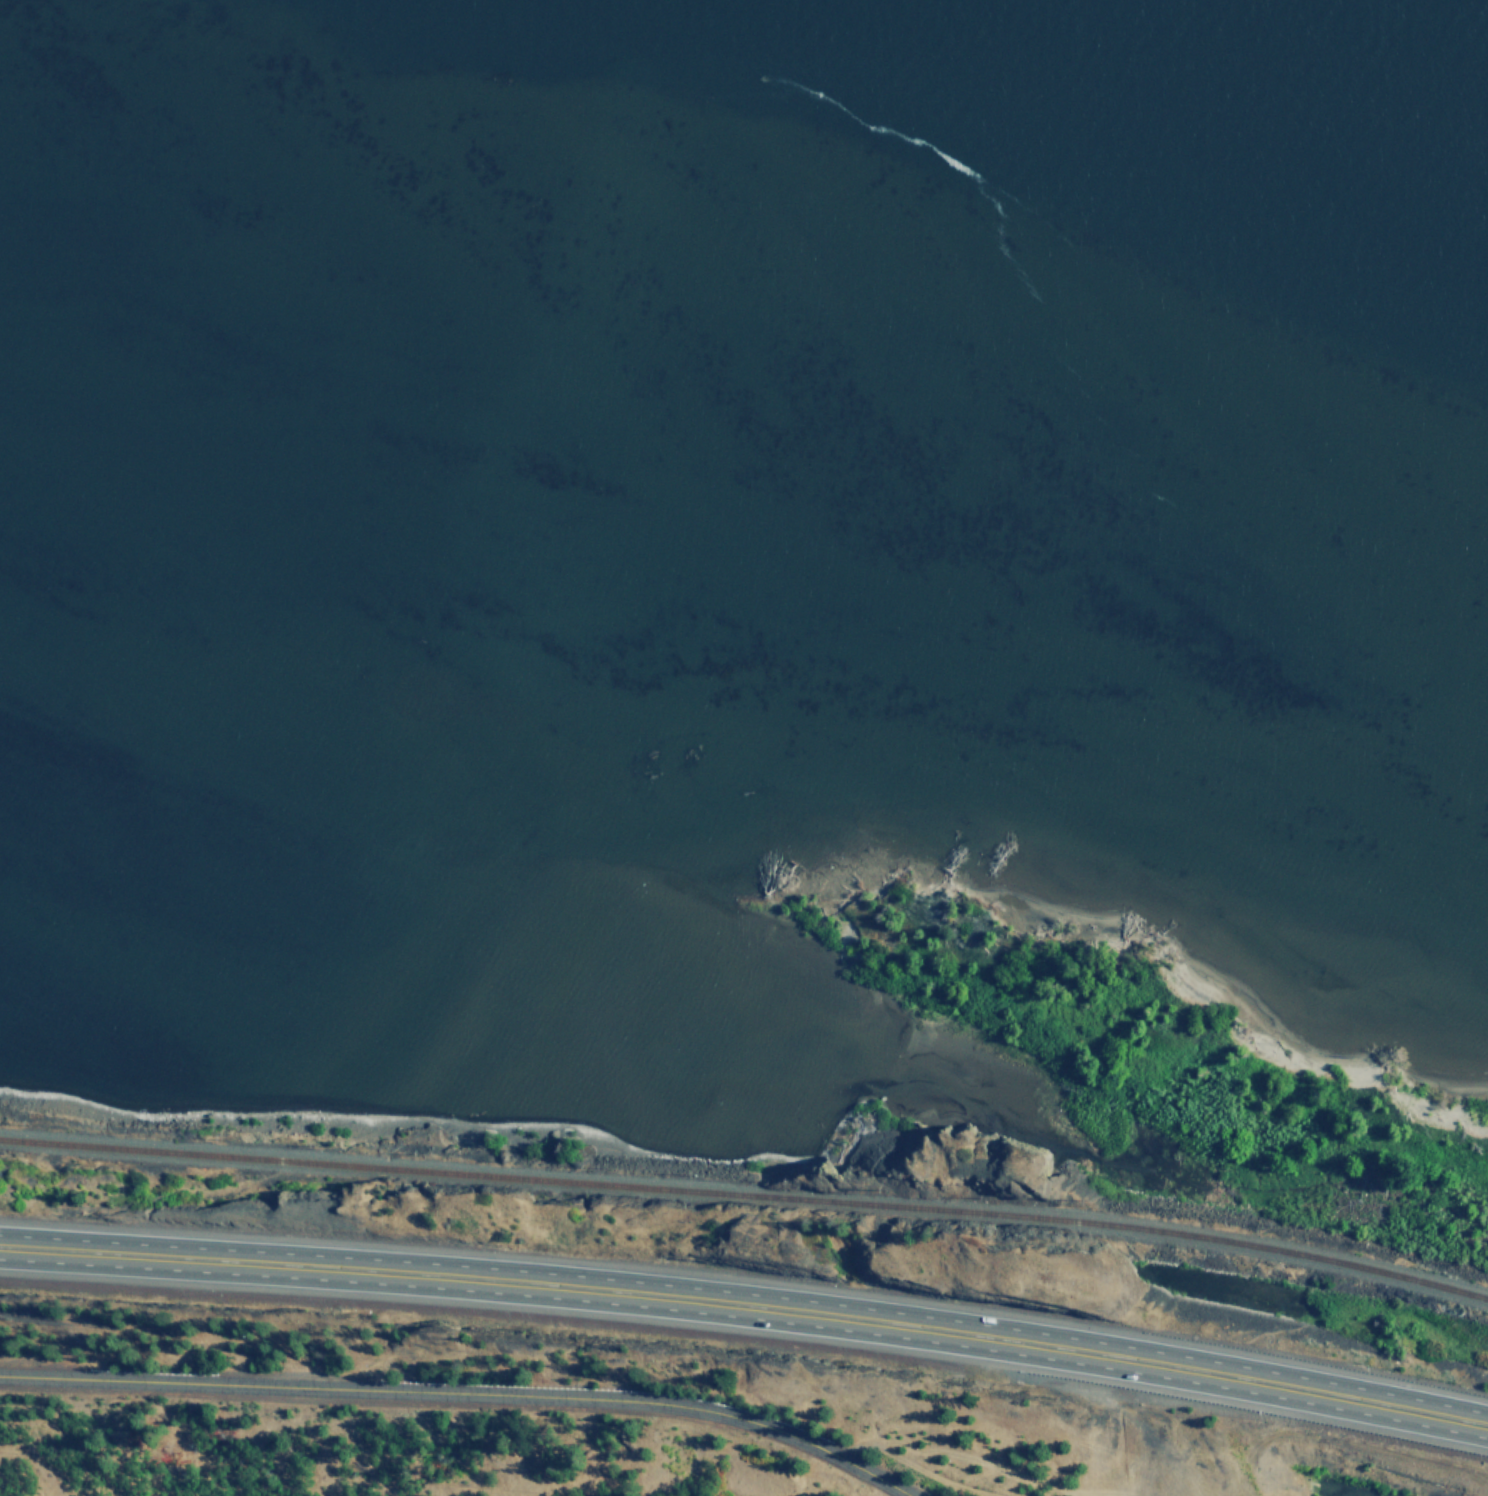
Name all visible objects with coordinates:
railway: (747, 1197)
road: (747, 1293)
road: (747, 1319)
road: (371, 1390)
road: (829, 1451)

